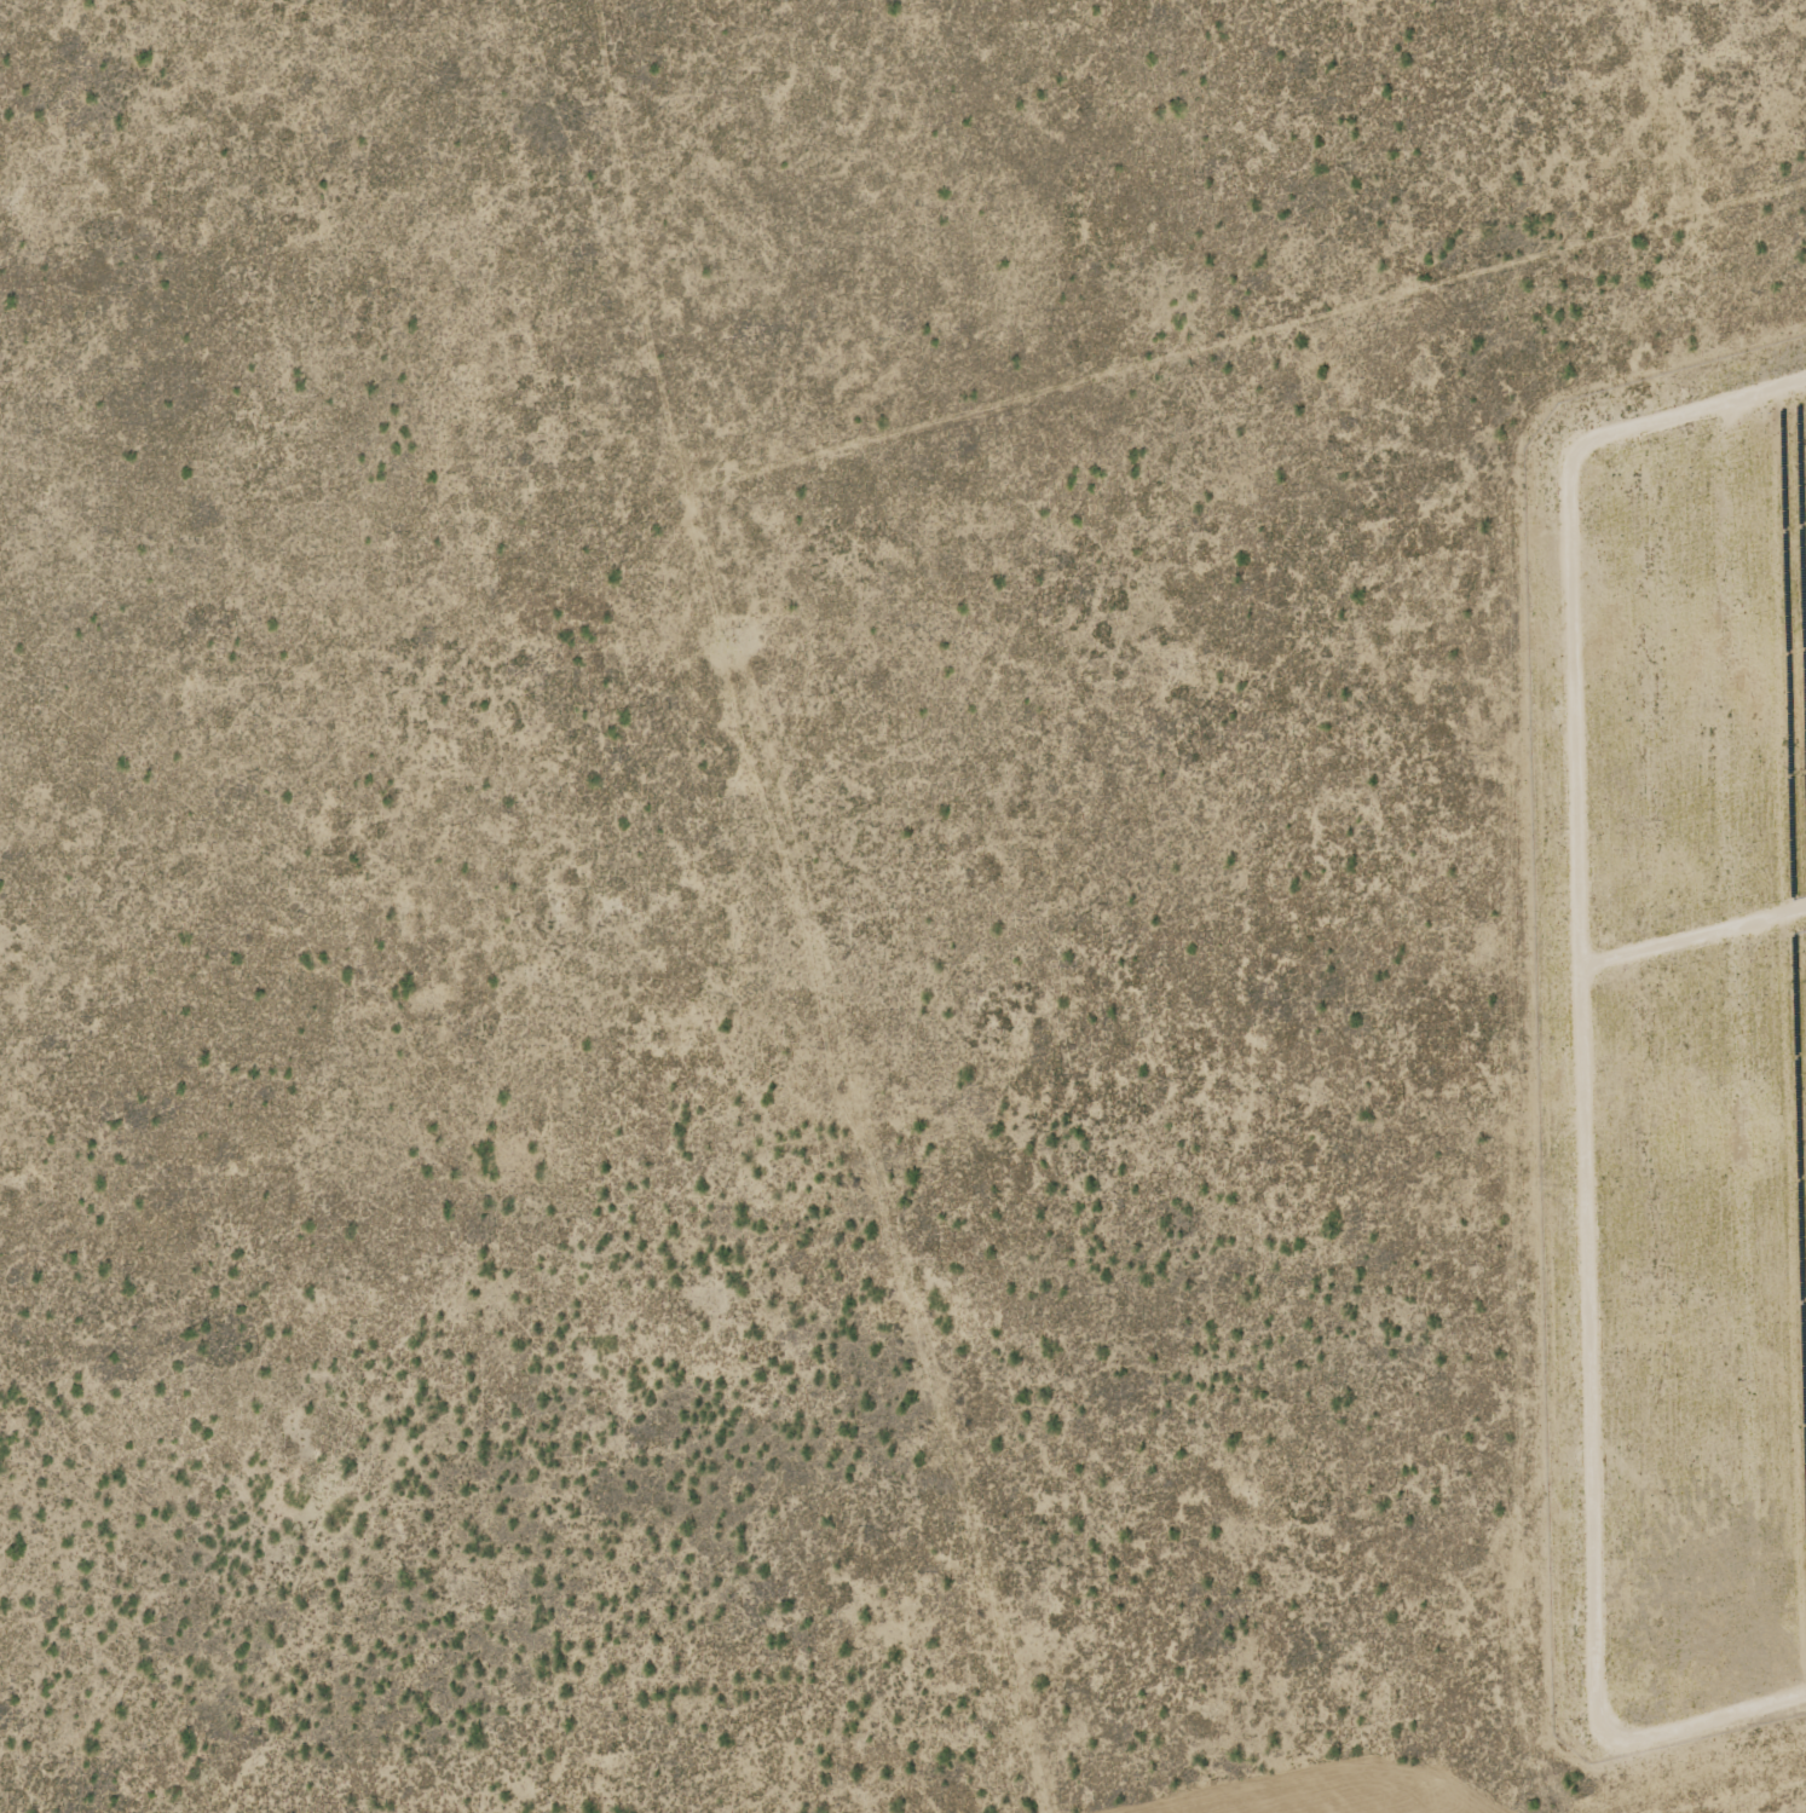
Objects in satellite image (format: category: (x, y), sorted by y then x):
solar farm: (1673, 1038)

